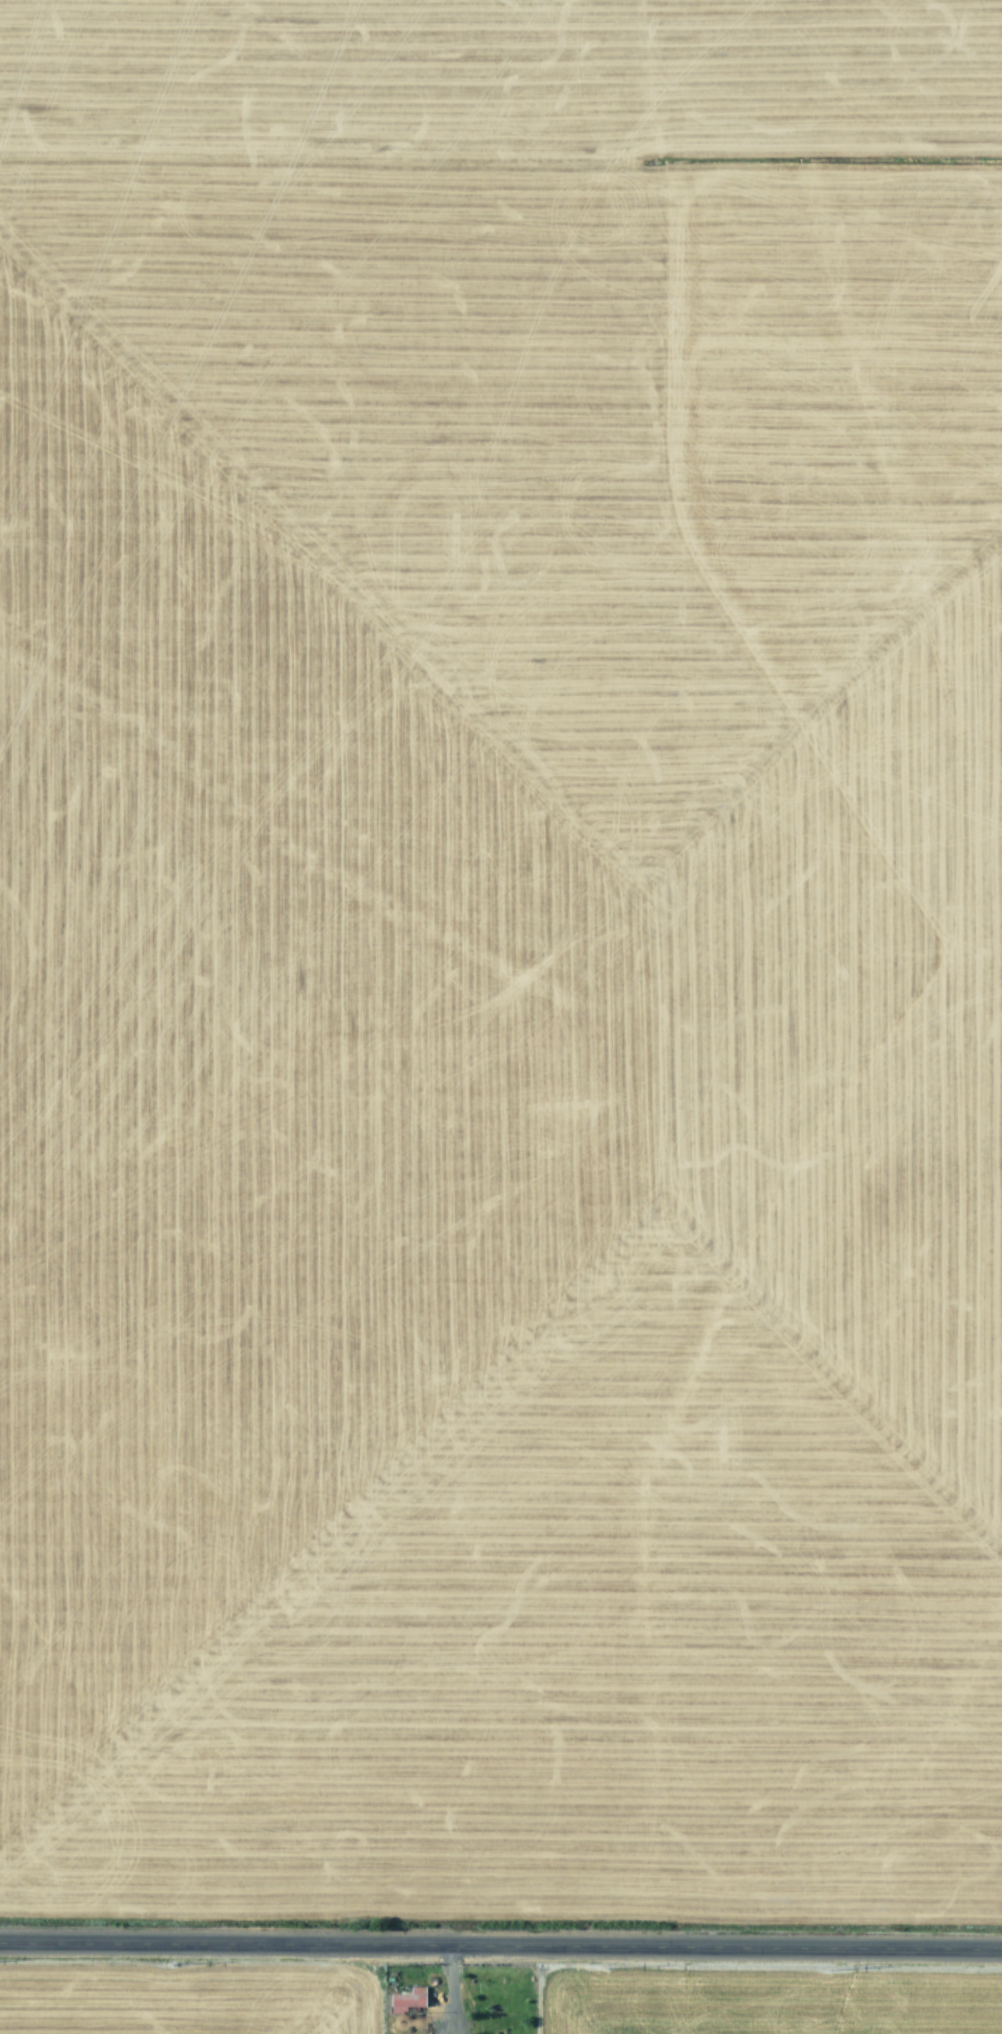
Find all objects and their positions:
crop: (501, 955)
road: (501, 1946)
crop: (492, 1997)

